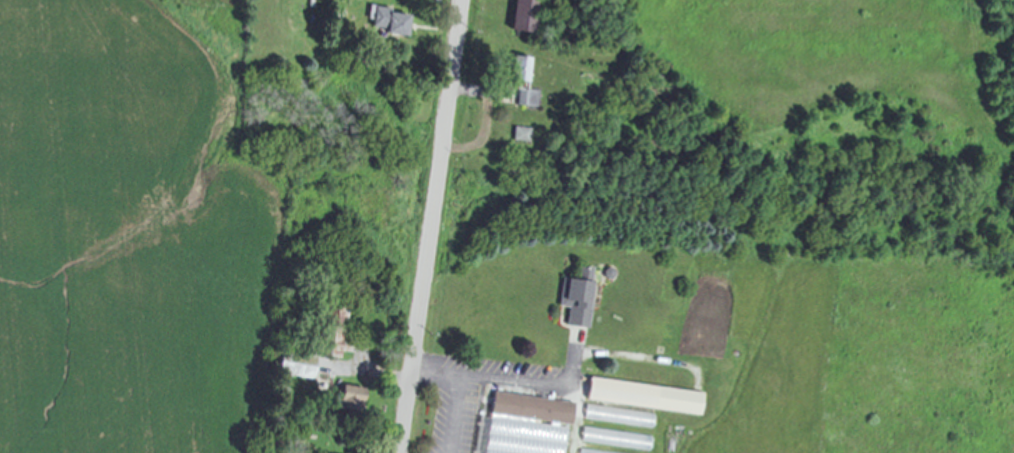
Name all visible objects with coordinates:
building: (520, 15)
building: (383, 21)
building: (521, 82)
road: (487, 118)
building: (518, 135)
road: (431, 226)
airport: (132, 230)
building: (573, 297)
building: (326, 330)
building: (292, 365)
road: (457, 375)
building: (639, 397)
building: (345, 398)
building: (528, 409)
road: (454, 414)
building: (623, 442)

